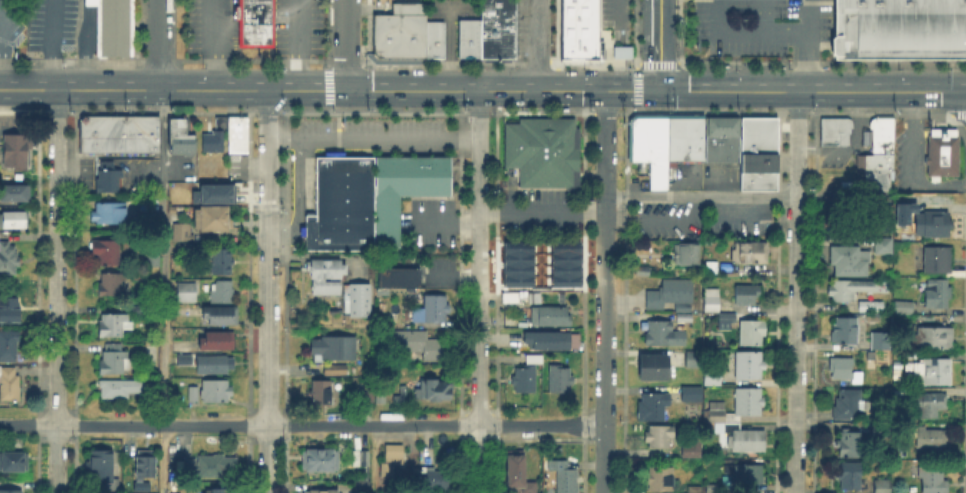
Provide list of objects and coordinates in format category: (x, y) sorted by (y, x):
road: (1, 11)
road: (624, 13)
road: (767, 17)
road: (812, 17)
building: (254, 24)
building: (115, 27)
building: (577, 29)
building: (900, 31)
road: (728, 33)
building: (490, 34)
road: (789, 34)
building: (407, 37)
road: (89, 44)
road: (157, 44)
road: (3, 45)
road: (54, 45)
road: (218, 45)
road: (302, 45)
road: (346, 45)
road: (537, 45)
road: (661, 45)
building: (620, 51)
road: (811, 63)
road: (330, 91)
traffic signals: (661, 91)
road: (729, 91)
road: (804, 92)
road: (862, 92)
road: (940, 92)
road: (638, 101)
road: (537, 112)
road: (604, 112)
road: (701, 112)
road: (788, 112)
road: (487, 113)
building: (837, 133)
building: (117, 134)
building: (238, 137)
building: (180, 138)
building: (684, 138)
building: (720, 138)
road: (374, 141)
road: (162, 142)
building: (214, 143)
building: (649, 147)
building: (15, 151)
building: (542, 151)
building: (756, 152)
building: (944, 155)
building: (879, 159)
road: (914, 162)
building: (108, 177)
building: (402, 188)
building: (212, 192)
building: (15, 193)
road: (743, 195)
road: (297, 196)
building: (341, 206)
building: (169, 209)
road: (542, 212)
building: (109, 213)
building: (901, 214)
building: (12, 219)
building: (212, 219)
road: (445, 220)
building: (932, 225)
building: (183, 233)
building: (884, 247)
building: (107, 251)
building: (750, 254)
building: (685, 255)
building: (8, 258)
building: (939, 260)
building: (221, 262)
building: (849, 262)
building: (551, 270)
building: (641, 272)
building: (960, 276)
building: (326, 277)
building: (400, 280)
building: (111, 283)
building: (511, 283)
road: (57, 291)
road: (605, 291)
building: (849, 291)
road: (268, 292)
road: (479, 292)
road: (796, 292)
building: (186, 293)
building: (221, 293)
building: (937, 294)
building: (672, 296)
building: (747, 296)
building: (510, 298)
building: (535, 300)
building: (357, 301)
building: (712, 301)
building: (871, 307)
building: (10, 308)
building: (904, 308)
building: (436, 310)
building: (140, 312)
building: (548, 316)
building: (220, 317)
building: (684, 318)
building: (728, 320)
building: (115, 324)
building: (845, 332)
building: (751, 333)
building: (663, 335)
building: (550, 339)
building: (931, 341)
building: (218, 342)
road: (164, 344)
building: (881, 344)
building: (418, 345)
building: (8, 346)
building: (326, 349)
building: (114, 360)
building: (534, 360)
building: (694, 361)
building: (208, 365)
building: (746, 367)
building: (655, 369)
building: (842, 370)
building: (336, 371)
building: (934, 375)
building: (712, 376)
building: (557, 378)
building: (524, 381)
building: (10, 382)
building: (125, 388)
building: (434, 390)
building: (216, 391)
building: (899, 393)
building: (321, 394)
building: (194, 395)
building: (692, 395)
building: (369, 396)
building: (930, 404)
building: (847, 406)
building: (653, 407)
road: (582, 418)
building: (723, 420)
road: (302, 425)
building: (659, 436)
building: (931, 440)
building: (848, 445)
building: (689, 447)
building: (697, 456)
building: (392, 458)
road: (372, 459)
building: (362, 460)
building: (14, 461)
building: (320, 461)
building: (142, 462)
building: (101, 465)
building: (211, 466)
building: (516, 472)
building: (743, 475)
building: (563, 477)
building: (849, 477)
building: (660, 479)
building: (435, 480)
building: (932, 480)
building: (137, 486)
building: (883, 487)
building: (363, 488)
building: (531, 488)
building: (11, 490)
building: (696, 490)
building: (218, 491)
building: (322, 492)

